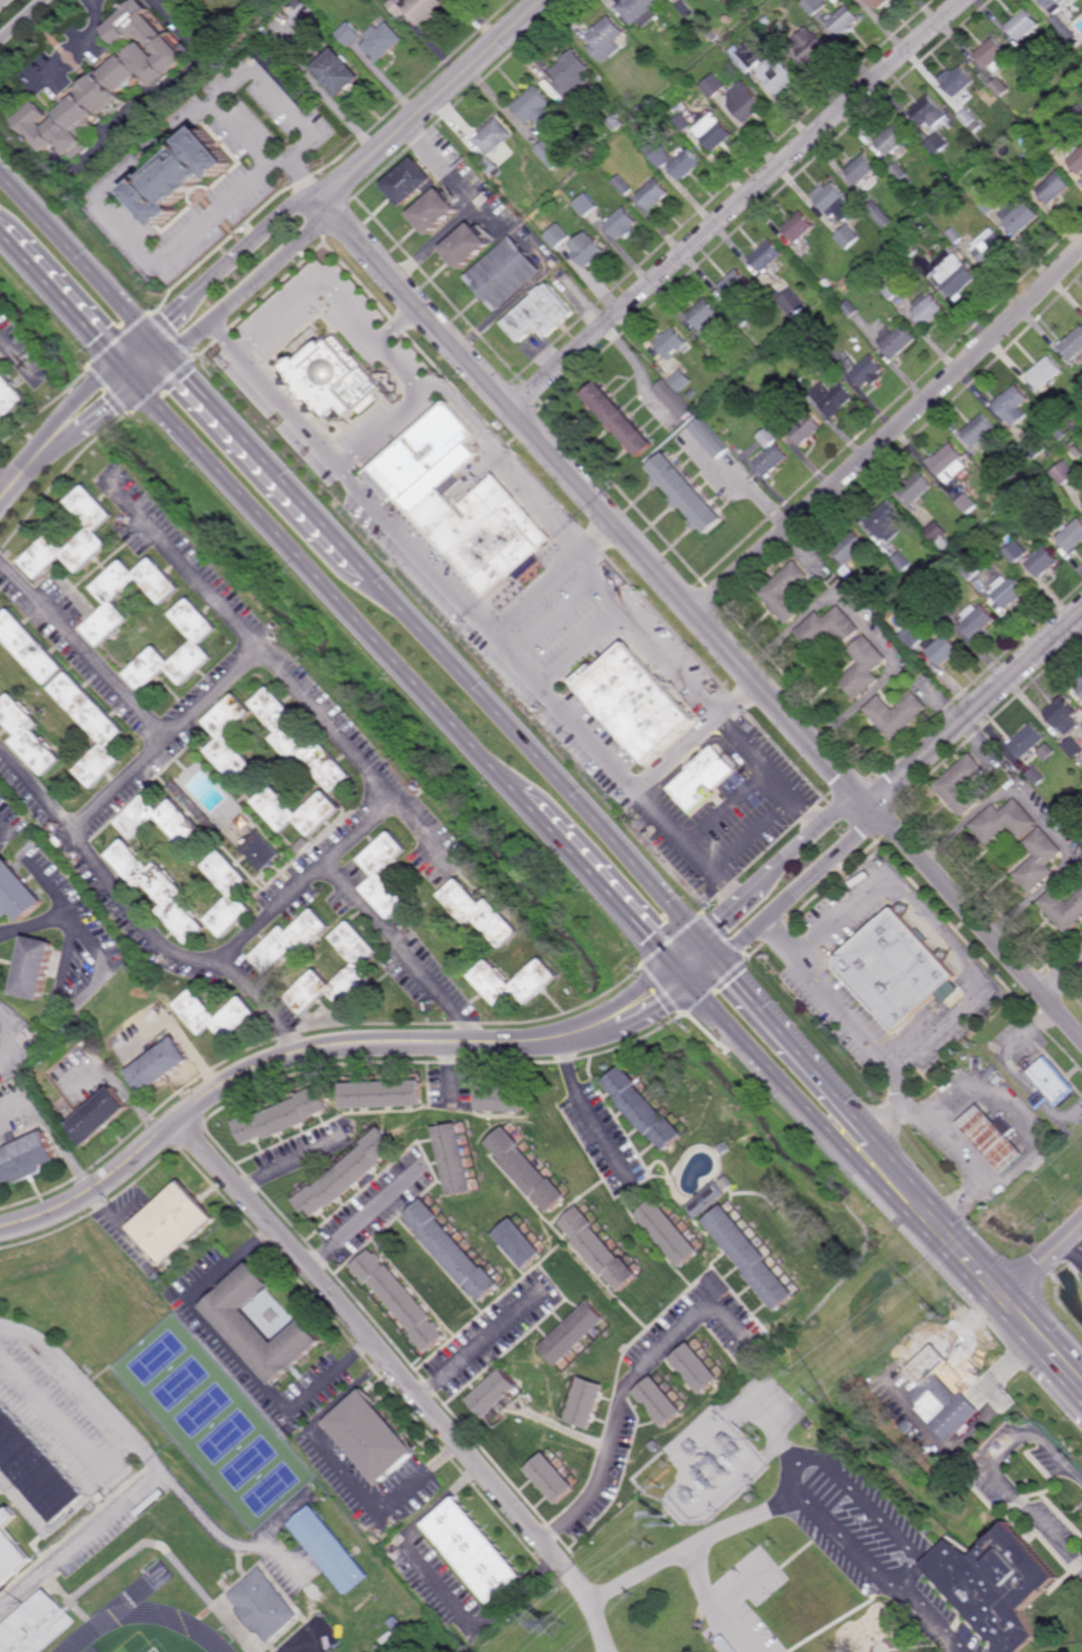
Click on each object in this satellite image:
road: (1, 1)
building: (878, 3)
building: (1052, 4)
building: (813, 6)
building: (418, 8)
building: (685, 9)
building: (641, 11)
building: (727, 18)
road: (21, 19)
building: (844, 19)
building: (764, 21)
building: (1022, 24)
building: (1063, 31)
building: (777, 32)
building: (350, 33)
building: (712, 36)
building: (605, 39)
building: (383, 42)
building: (810, 46)
road: (80, 48)
building: (993, 54)
building: (1036, 64)
building: (765, 68)
building: (338, 72)
building: (678, 73)
building: (571, 74)
building: (283, 77)
building: (110, 81)
building: (959, 81)
building: (712, 86)
building: (999, 87)
building: (1080, 89)
road: (432, 98)
building: (745, 101)
building: (534, 107)
building: (639, 110)
road: (340, 112)
building: (930, 112)
building: (1078, 112)
building: (633, 117)
building: (968, 117)
building: (681, 121)
building: (614, 122)
building: (713, 131)
road: (240, 136)
building: (893, 140)
building: (1051, 140)
building: (491, 142)
building: (938, 144)
building: (552, 154)
building: (661, 158)
building: (1075, 159)
road: (143, 160)
building: (684, 164)
building: (863, 170)
building: (900, 172)
building: (181, 176)
building: (410, 182)
building: (620, 184)
building: (1053, 187)
building: (956, 189)
building: (652, 193)
building: (834, 201)
building: (972, 203)
road: (734, 204)
building: (584, 206)
road: (469, 207)
building: (988, 207)
building: (435, 211)
building: (881, 214)
building: (1018, 217)
building: (621, 223)
building: (800, 227)
building: (557, 236)
building: (956, 236)
building: (849, 237)
building: (468, 247)
building: (991, 247)
building: (912, 249)
building: (589, 252)
road: (76, 253)
building: (765, 257)
road: (233, 259)
building: (928, 267)
building: (955, 273)
building: (504, 274)
road: (256, 282)
building: (735, 286)
building: (893, 290)
building: (792, 302)
road: (71, 307)
building: (851, 309)
building: (929, 310)
building: (540, 314)
building: (703, 314)
building: (742, 317)
traffic signals: (151, 336)
building: (899, 340)
building: (702, 341)
building: (671, 343)
building: (1072, 344)
road: (161, 347)
road: (17, 353)
traffic signals: (172, 359)
traffic signals: (120, 361)
road: (157, 371)
building: (871, 372)
building: (1045, 372)
building: (333, 379)
building: (681, 380)
building: (835, 381)
traffic signals: (142, 384)
building: (690, 392)
building: (9, 396)
building: (832, 397)
building: (672, 399)
building: (1012, 401)
road: (76, 402)
building: (765, 412)
road: (468, 415)
building: (617, 419)
building: (1072, 425)
building: (804, 428)
building: (980, 429)
road: (78, 432)
building: (1061, 433)
road: (890, 434)
building: (765, 437)
building: (707, 438)
building: (1034, 447)
building: (1075, 452)
building: (770, 459)
building: (950, 462)
building: (1064, 472)
road: (8, 473)
building: (1005, 487)
building: (916, 488)
building: (684, 491)
road: (8, 493)
road: (593, 502)
building: (966, 502)
building: (493, 503)
building: (885, 521)
building: (98, 530)
building: (938, 531)
building: (1072, 534)
building: (851, 547)
building: (1013, 551)
building: (903, 561)
building: (1042, 561)
building: (971, 567)
road: (550, 574)
building: (1008, 590)
building: (784, 591)
building: (881, 597)
building: (117, 601)
building: (943, 605)
road: (554, 615)
building: (976, 620)
building: (829, 627)
road: (865, 628)
building: (913, 635)
building: (198, 643)
building: (36, 644)
road: (583, 648)
building: (942, 648)
road: (448, 659)
building: (862, 668)
road: (407, 673)
building: (1080, 688)
road: (698, 690)
road: (207, 699)
building: (637, 705)
road: (974, 708)
building: (1060, 712)
building: (894, 713)
road: (579, 725)
building: (1069, 727)
building: (97, 728)
building: (31, 730)
road: (698, 738)
building: (228, 739)
building: (302, 740)
building: (1024, 741)
building: (1071, 748)
building: (1044, 752)
road: (355, 757)
building: (1036, 773)
building: (700, 782)
building: (959, 784)
road: (728, 807)
building: (324, 811)
building: (140, 818)
road: (79, 819)
building: (1001, 821)
building: (1075, 823)
road: (10, 833)
road: (753, 834)
building: (266, 850)
building: (1035, 860)
road: (779, 864)
building: (382, 874)
road: (798, 887)
building: (161, 889)
building: (21, 892)
building: (237, 893)
building: (1062, 909)
road: (268, 913)
building: (483, 914)
road: (372, 915)
road: (840, 915)
road: (68, 919)
road: (974, 921)
road: (33, 925)
traffic signals: (699, 939)
building: (294, 942)
road: (685, 950)
road: (177, 953)
traffic signals: (673, 962)
traffic signals: (720, 963)
building: (39, 969)
building: (362, 969)
building: (898, 971)
road: (979, 973)
road: (1062, 975)
building: (537, 983)
traffic signals: (697, 988)
building: (951, 994)
road: (618, 998)
building: (219, 1015)
road: (650, 1018)
road: (12, 1038)
building: (0, 1045)
building: (161, 1065)
road: (259, 1067)
building: (1049, 1083)
building: (387, 1097)
building: (504, 1101)
road: (589, 1110)
building: (645, 1110)
building: (102, 1113)
road: (918, 1115)
building: (287, 1119)
road: (56, 1131)
building: (993, 1137)
gas station: (993, 1137)
road: (948, 1138)
building: (727, 1147)
building: (28, 1158)
building: (458, 1160)
road: (293, 1161)
road: (900, 1164)
building: (534, 1170)
building: (349, 1174)
road: (878, 1183)
road: (973, 1187)
building: (710, 1198)
road: (367, 1217)
building: (177, 1220)
building: (673, 1230)
building: (522, 1241)
building: (603, 1246)
building: (452, 1249)
building: (754, 1255)
road: (1036, 1265)
building: (721, 1284)
building: (402, 1298)
building: (260, 1324)
building: (578, 1332)
road: (374, 1340)
road: (482, 1343)
road: (238, 1356)
building: (700, 1366)
road: (625, 1391)
building: (494, 1392)
building: (662, 1400)
building: (589, 1402)
building: (941, 1404)
road: (63, 1418)
park: (213, 1422)
building: (813, 1423)
building: (903, 1428)
building: (372, 1435)
building: (658, 1445)
building: (37, 1454)
road: (158, 1466)
power substation: (702, 1469)
road: (989, 1469)
road: (341, 1470)
building: (553, 1478)
road: (23, 1502)
road: (741, 1523)
road: (226, 1540)
building: (330, 1549)
building: (475, 1550)
building: (12, 1551)
road: (910, 1562)
road: (438, 1584)
building: (993, 1584)
road: (745, 1586)
road: (592, 1604)
building: (267, 1605)
road: (713, 1605)
track: (144, 1616)
road: (928, 1620)
power tower: (553, 1625)
building: (855, 1626)
building: (39, 1628)
park: (153, 1651)

